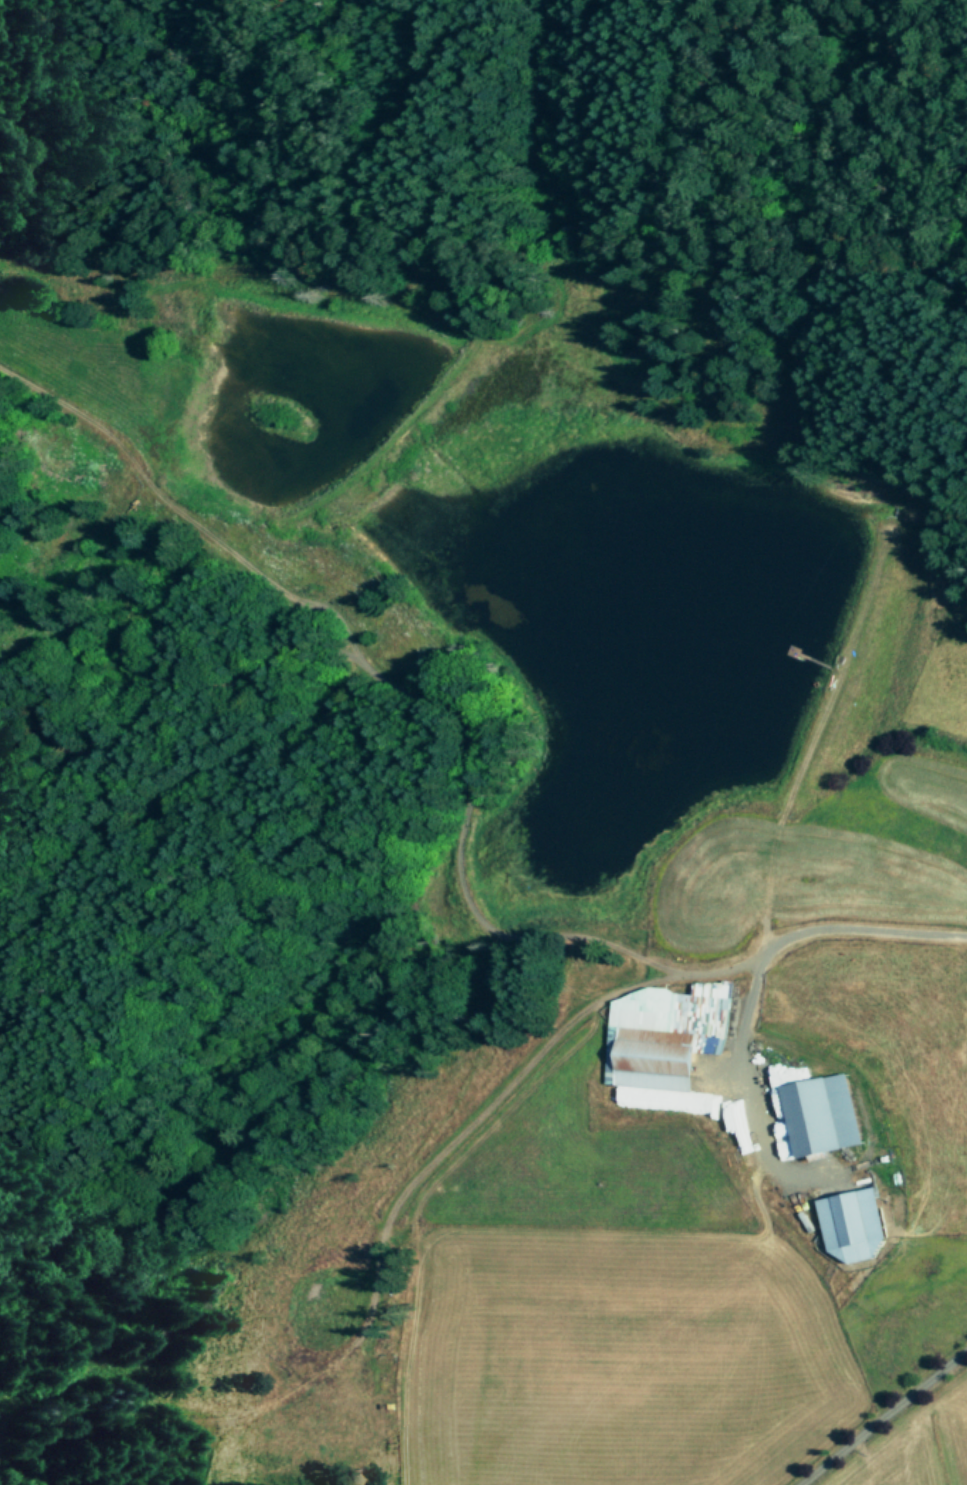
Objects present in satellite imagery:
road: (799, 933)
building: (665, 1044)
building: (821, 1117)
building: (736, 1126)
building: (854, 1224)
road: (880, 1414)

